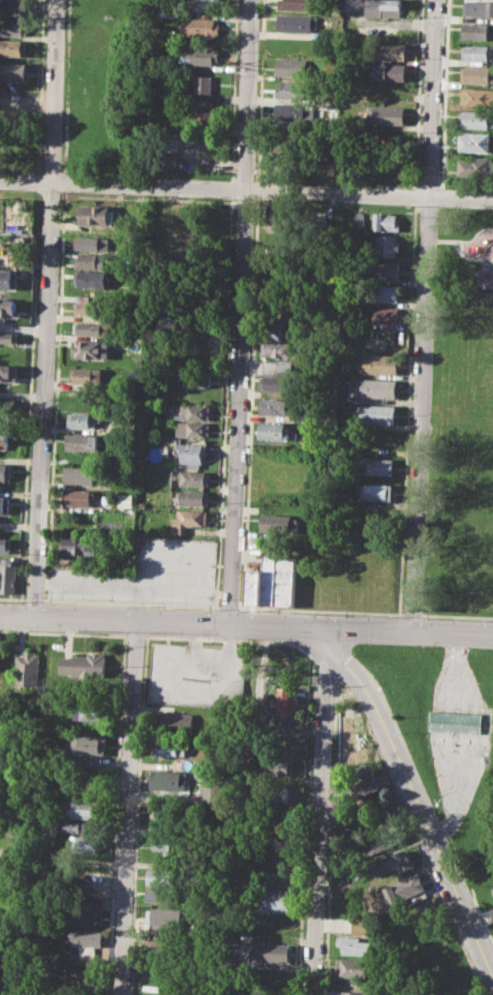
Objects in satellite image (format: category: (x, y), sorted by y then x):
building: (205, 4)
building: (298, 4)
building: (350, 5)
building: (13, 6)
building: (478, 7)
building: (385, 8)
building: (297, 22)
building: (13, 26)
building: (202, 27)
building: (478, 30)
building: (13, 48)
building: (392, 50)
building: (478, 52)
building: (199, 55)
building: (293, 68)
building: (391, 71)
building: (13, 72)
building: (477, 75)
building: (204, 85)
road: (260, 90)
building: (292, 90)
building: (387, 92)
building: (477, 96)
building: (203, 113)
building: (290, 113)
building: (386, 114)
building: (477, 119)
building: (475, 141)
building: (194, 147)
building: (476, 166)
road: (246, 188)
road: (256, 189)
building: (96, 214)
building: (359, 218)
building: (319, 221)
building: (386, 222)
building: (280, 223)
building: (182, 234)
building: (91, 242)
building: (388, 244)
building: (91, 261)
building: (384, 271)
building: (8, 278)
building: (90, 279)
building: (384, 292)
building: (90, 303)
building: (7, 307)
road: (46, 308)
road: (240, 311)
building: (384, 315)
road: (422, 315)
building: (89, 329)
building: (8, 337)
building: (90, 348)
building: (279, 349)
building: (383, 364)
building: (285, 366)
building: (8, 372)
building: (85, 375)
building: (195, 379)
building: (276, 383)
building: (379, 388)
road: (249, 403)
building: (274, 407)
building: (147, 408)
building: (7, 411)
building: (192, 412)
building: (376, 414)
building: (83, 419)
park: (460, 422)
building: (191, 430)
building: (271, 431)
building: (4, 440)
building: (83, 442)
park: (471, 447)
building: (192, 453)
building: (376, 466)
building: (6, 471)
building: (80, 474)
building: (193, 479)
building: (374, 491)
building: (79, 497)
building: (193, 498)
building: (107, 499)
building: (125, 500)
building: (5, 505)
building: (187, 520)
building: (277, 524)
building: (5, 545)
building: (78, 546)
parking lot: (146, 574)
building: (9, 576)
building: (271, 581)
road: (12, 598)
road: (34, 599)
road: (131, 603)
road: (228, 607)
road: (320, 610)
road: (410, 614)
road: (456, 615)
road: (246, 624)
building: (0, 661)
building: (85, 665)
building: (29, 668)
parking lot: (197, 673)
building: (287, 703)
building: (91, 710)
building: (350, 717)
building: (180, 719)
building: (457, 721)
building: (90, 744)
building: (174, 747)
building: (283, 766)
building: (169, 779)
building: (362, 786)
building: (210, 793)
building: (275, 794)
road: (416, 800)
road: (130, 807)
building: (86, 808)
road: (320, 811)
building: (160, 812)
building: (75, 827)
building: (384, 838)
building: (170, 842)
building: (88, 843)
building: (397, 861)
building: (166, 876)
building: (409, 886)
building: (166, 893)
building: (275, 899)
building: (88, 910)
building: (167, 916)
building: (362, 926)
building: (88, 942)
building: (354, 944)
building: (164, 947)
building: (272, 952)
building: (354, 967)
building: (81, 976)
building: (355, 992)

